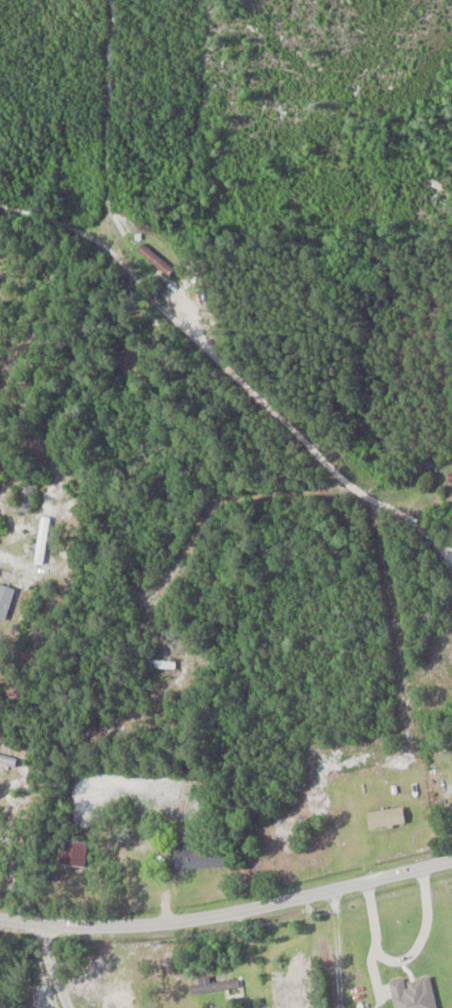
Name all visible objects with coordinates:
building: (156, 259)
road: (196, 319)
road: (46, 476)
building: (450, 476)
building: (26, 498)
building: (43, 540)
building: (5, 600)
building: (159, 664)
building: (8, 761)
building: (387, 818)
building: (75, 852)
building: (200, 855)
road: (228, 913)
road: (334, 948)
road: (55, 967)
building: (214, 985)
building: (414, 993)
building: (288, 996)

